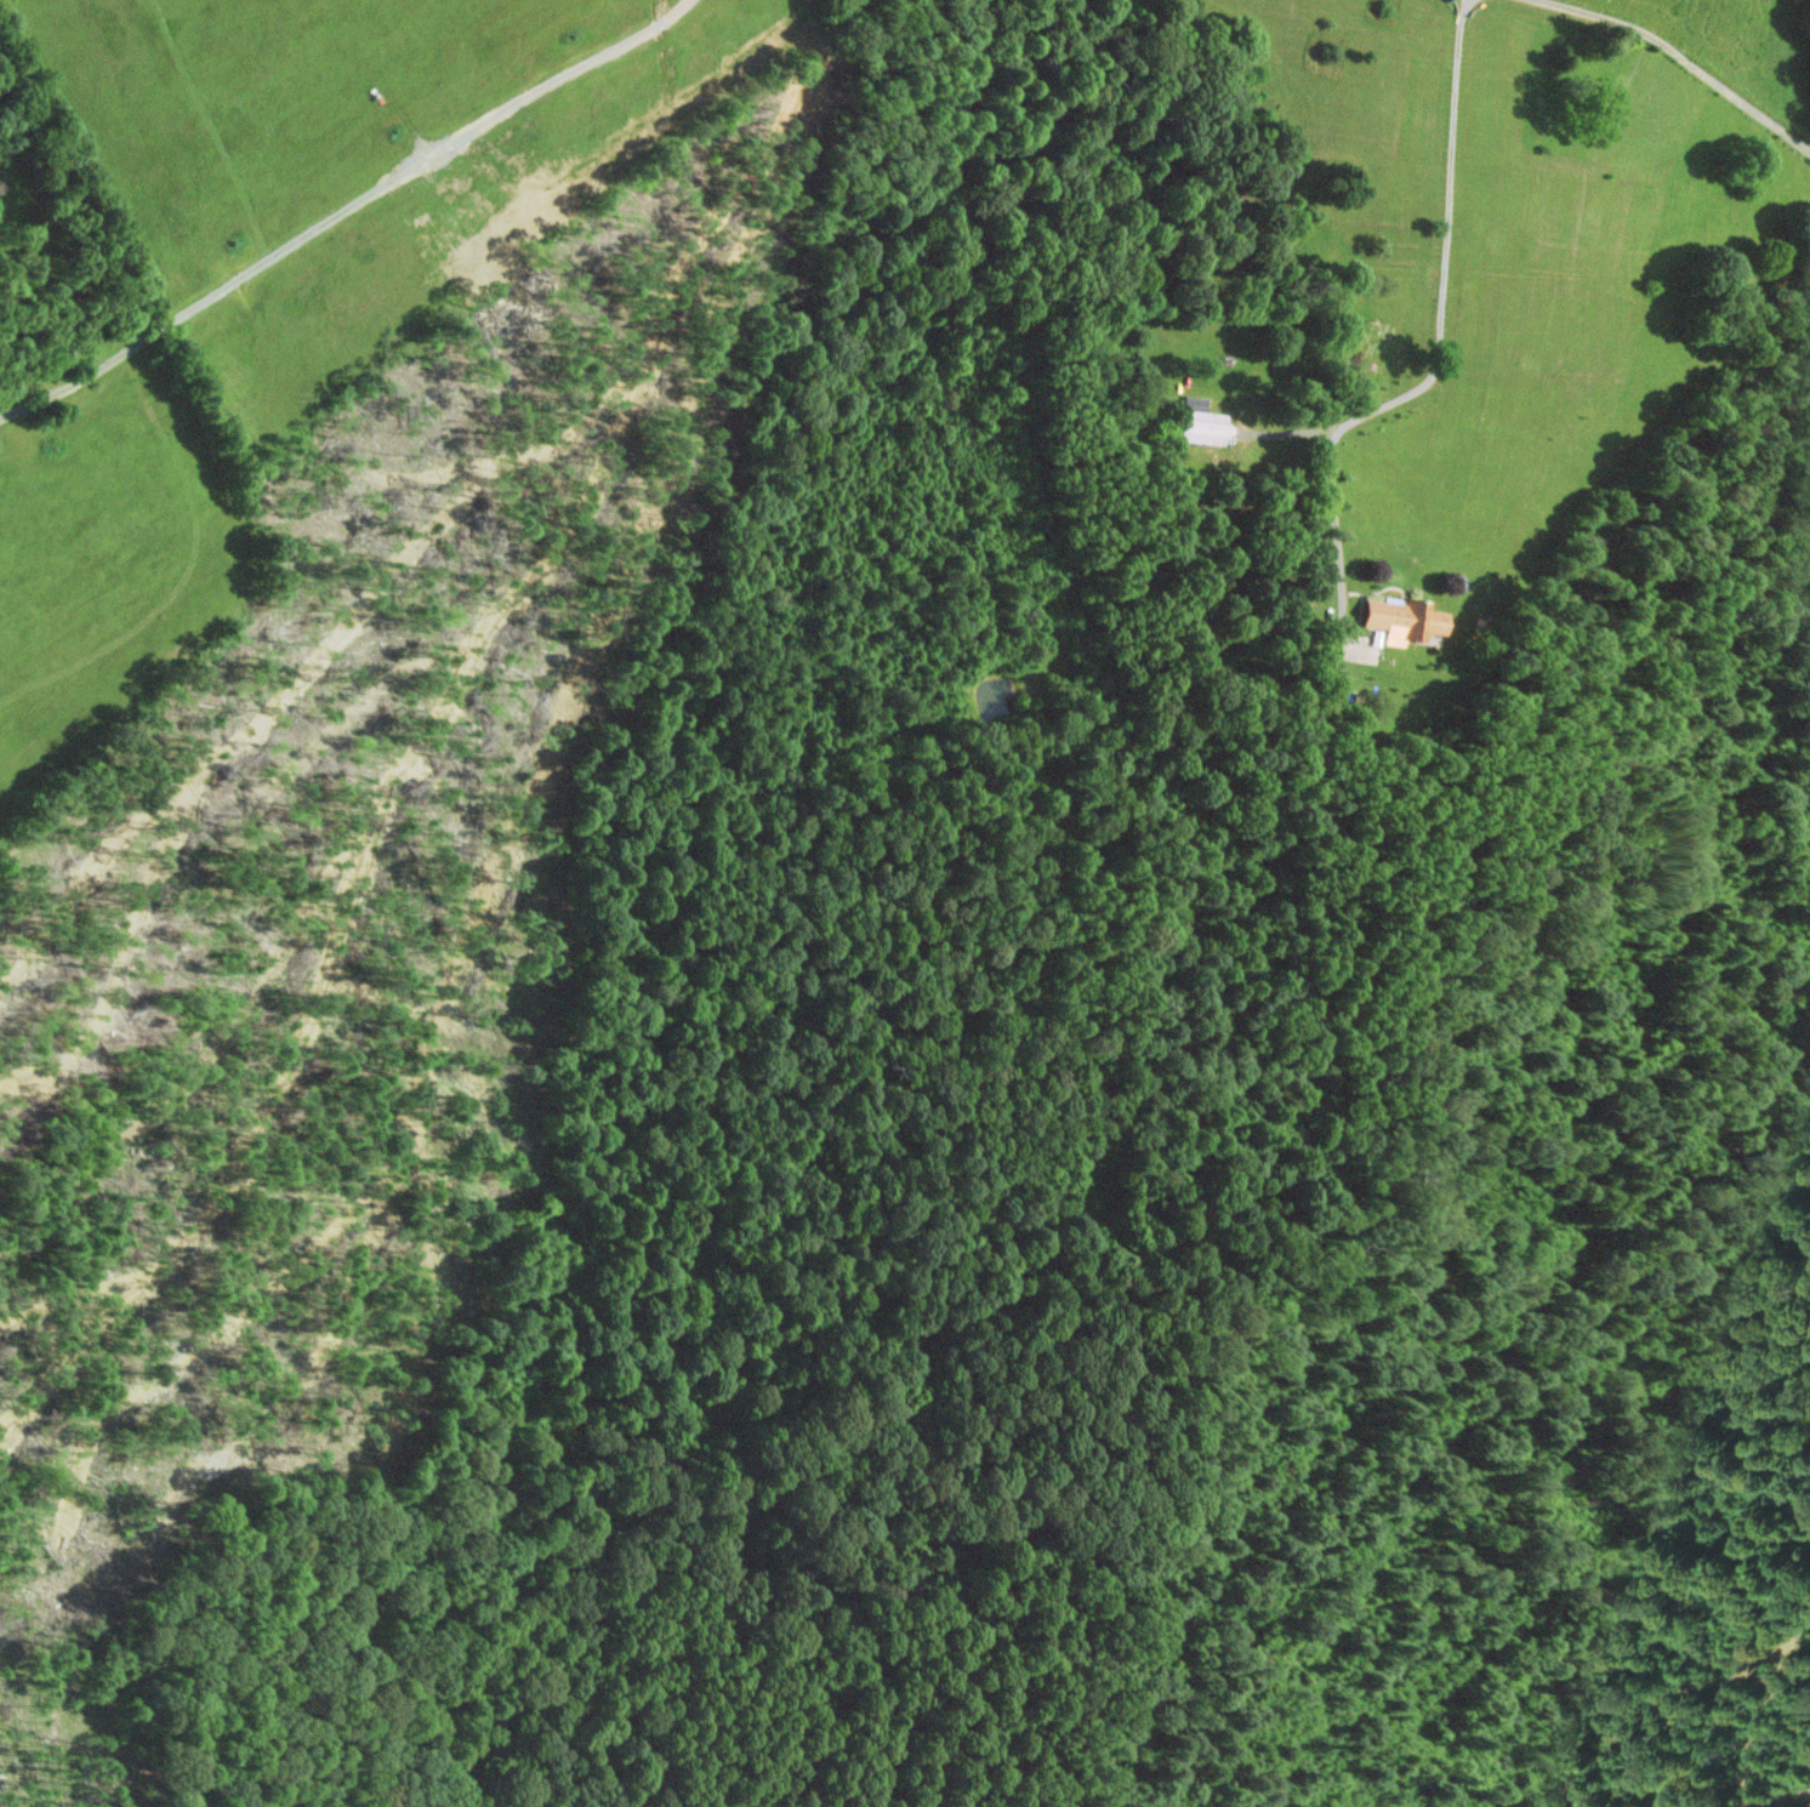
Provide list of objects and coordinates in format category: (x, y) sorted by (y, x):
road: (1672, 62)
building: (1398, 615)

